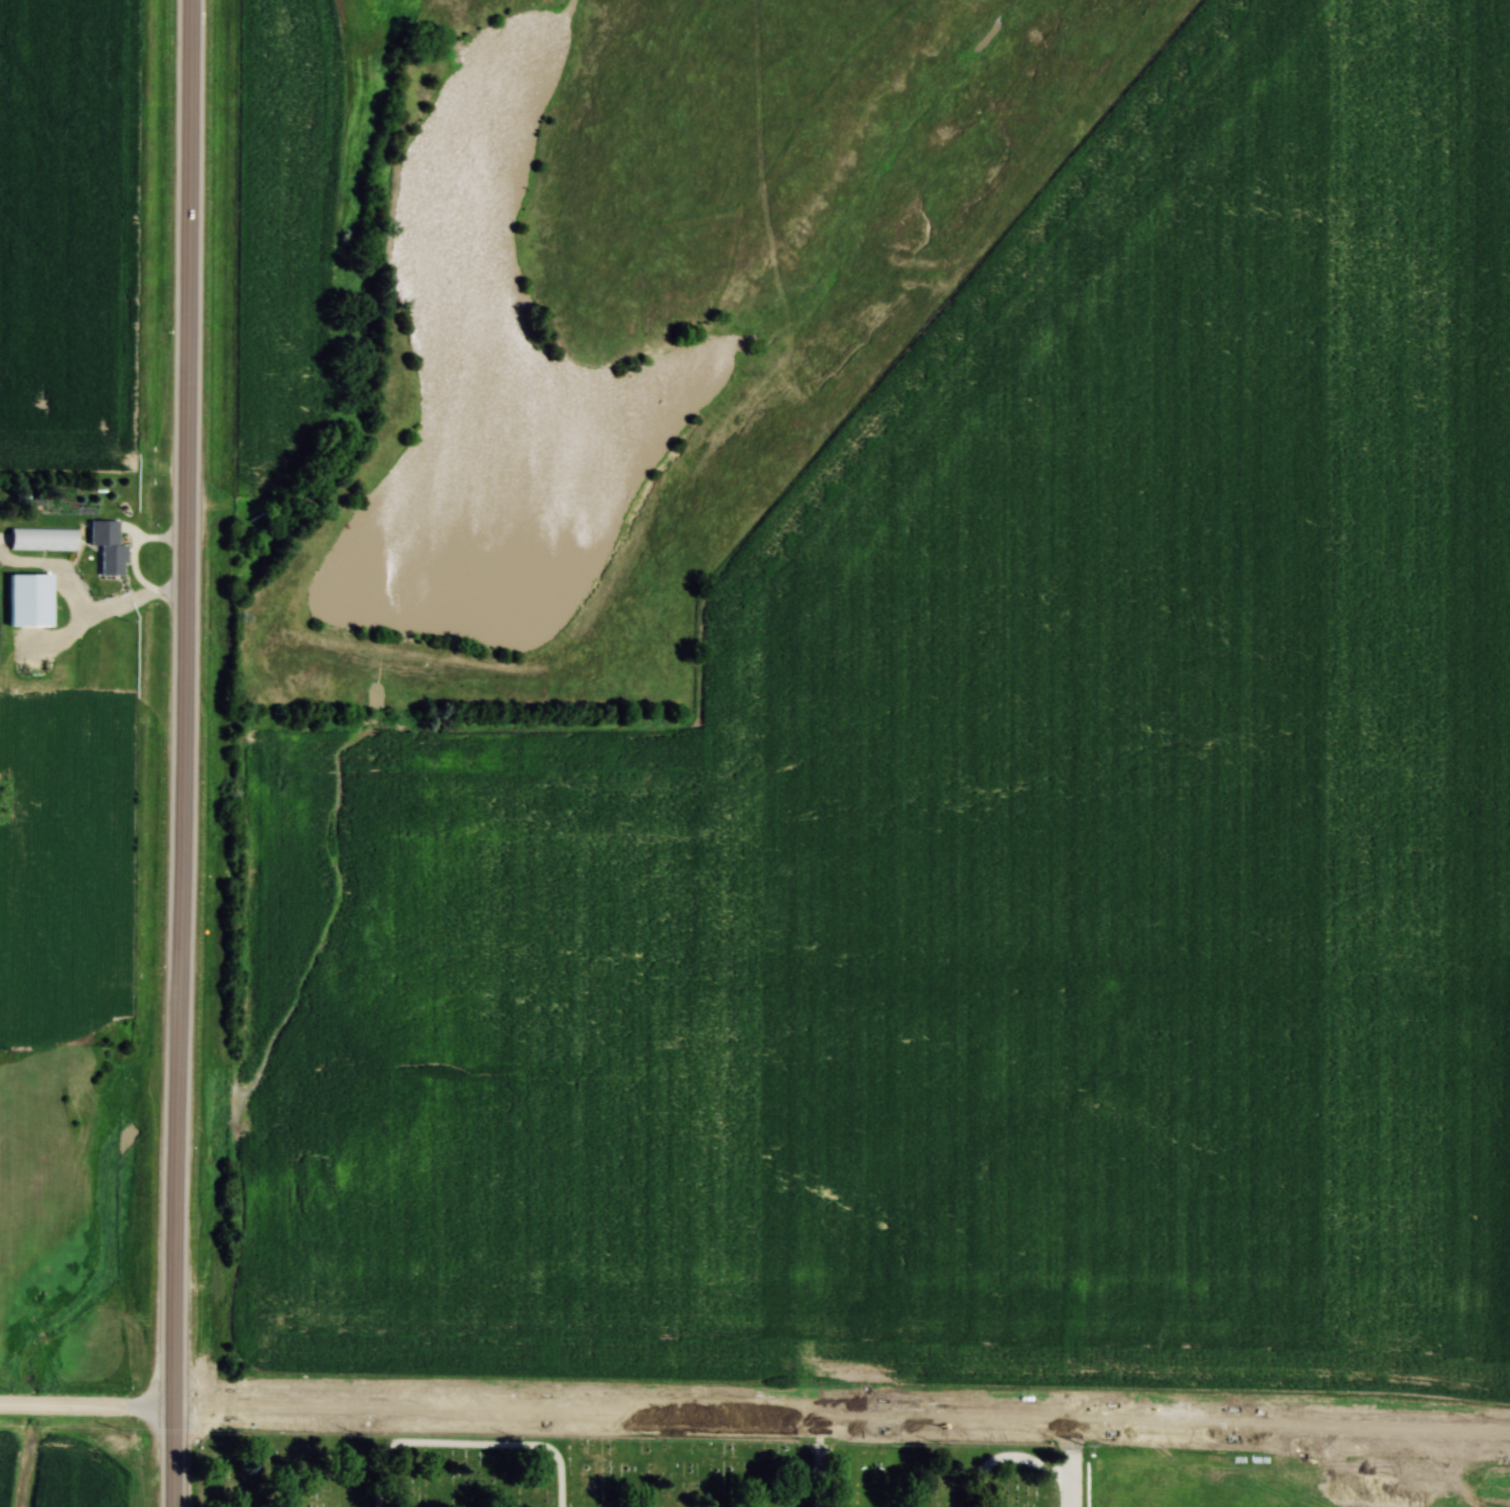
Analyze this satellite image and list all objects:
building: (41, 540)
building: (105, 551)
building: (27, 601)
road: (104, 613)
road: (184, 705)
road: (87, 1409)
road: (842, 1418)
road: (469, 1446)
road: (1014, 1456)
road: (173, 1459)
road: (817, 1462)
road: (1080, 1466)
park: (635, 1467)

